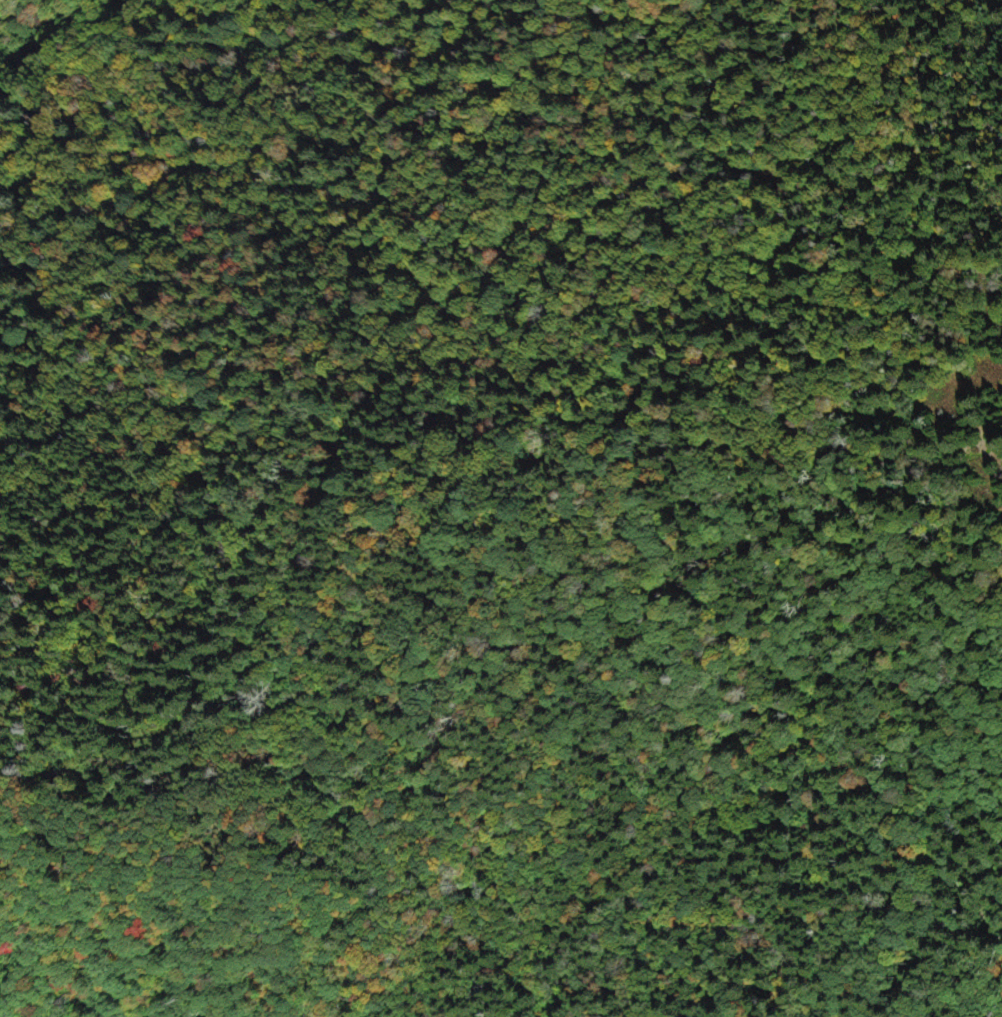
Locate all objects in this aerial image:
road: (316, 544)

